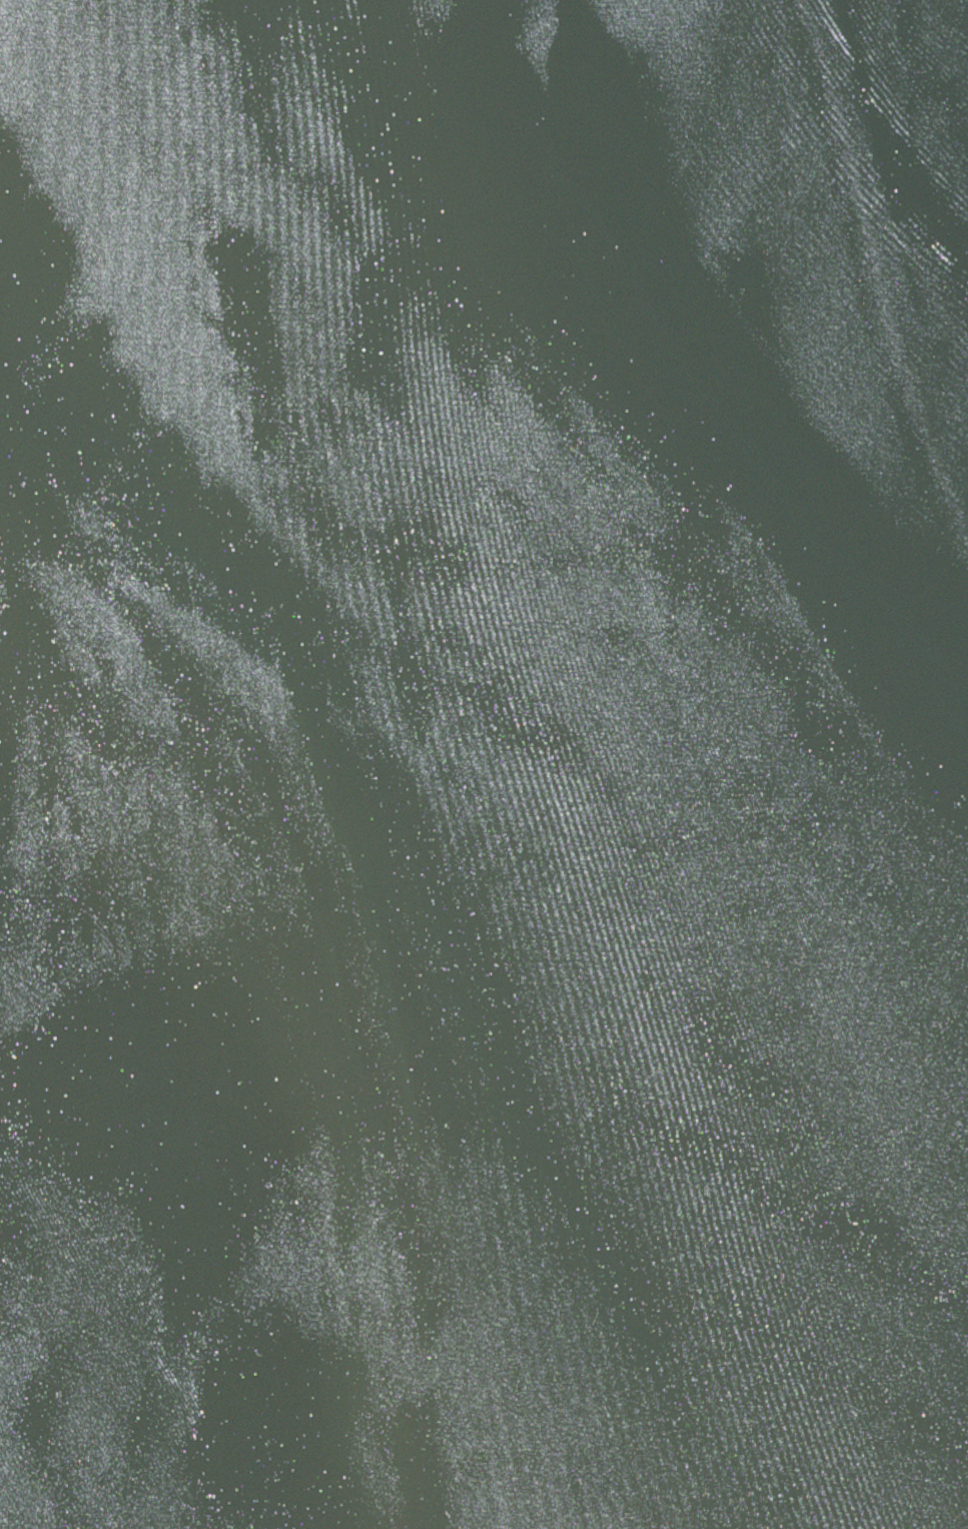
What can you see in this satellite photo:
river: (233, 927)

